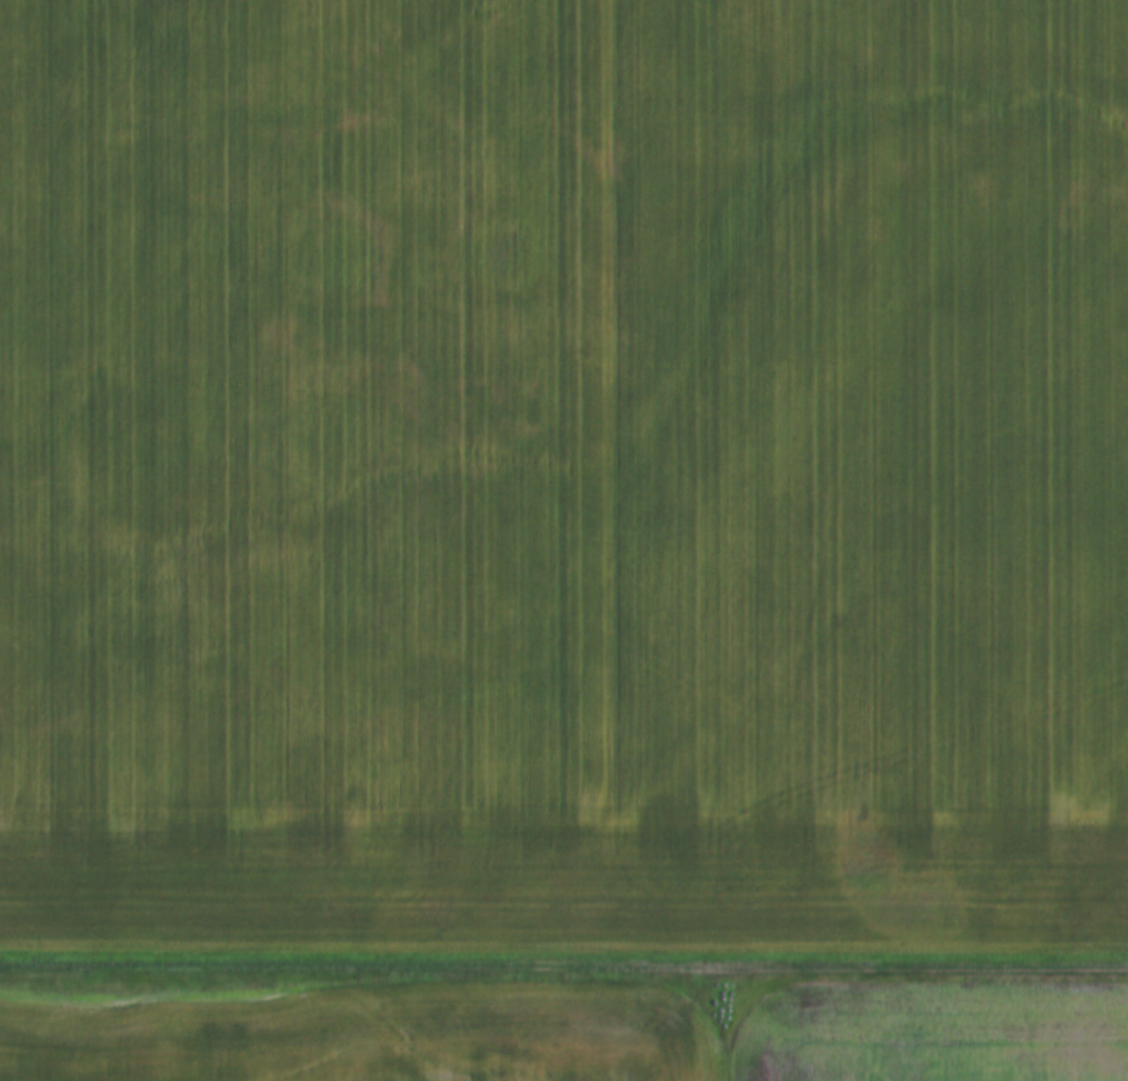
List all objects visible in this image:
road: (563, 964)

